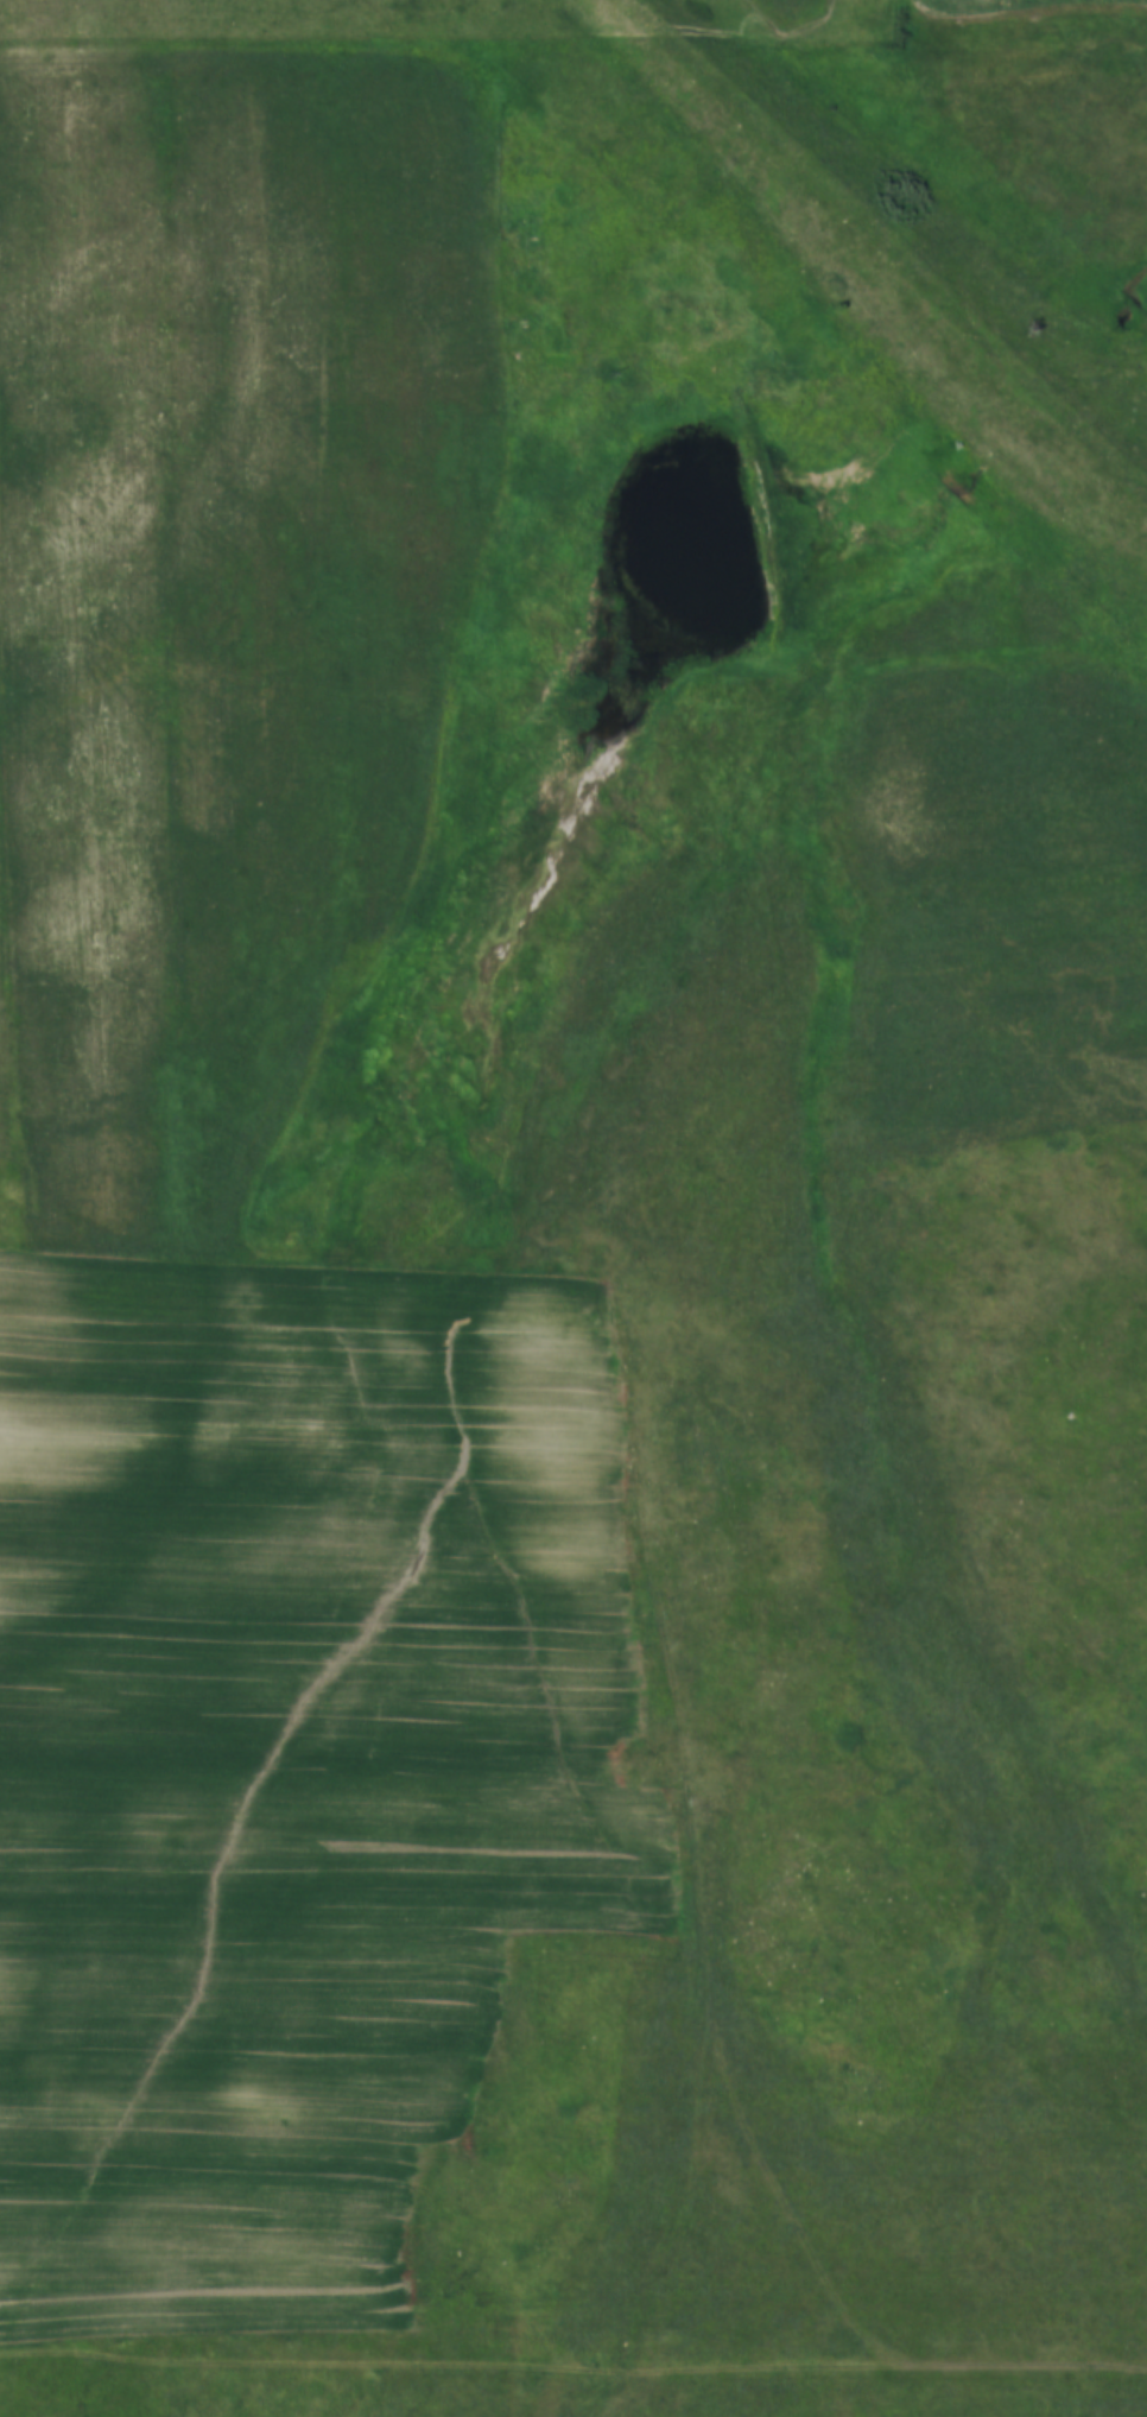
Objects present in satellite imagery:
road: (573, 2371)

